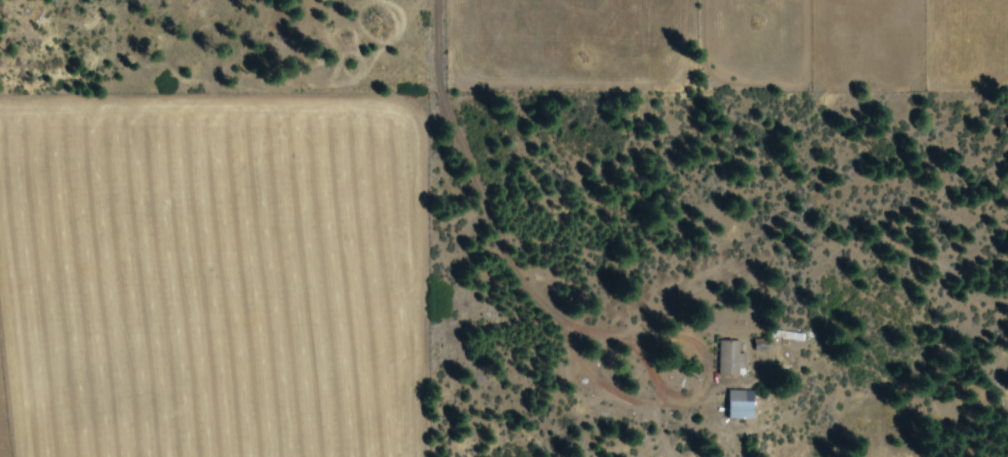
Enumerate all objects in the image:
road: (312, 71)
building: (732, 360)
building: (742, 406)

